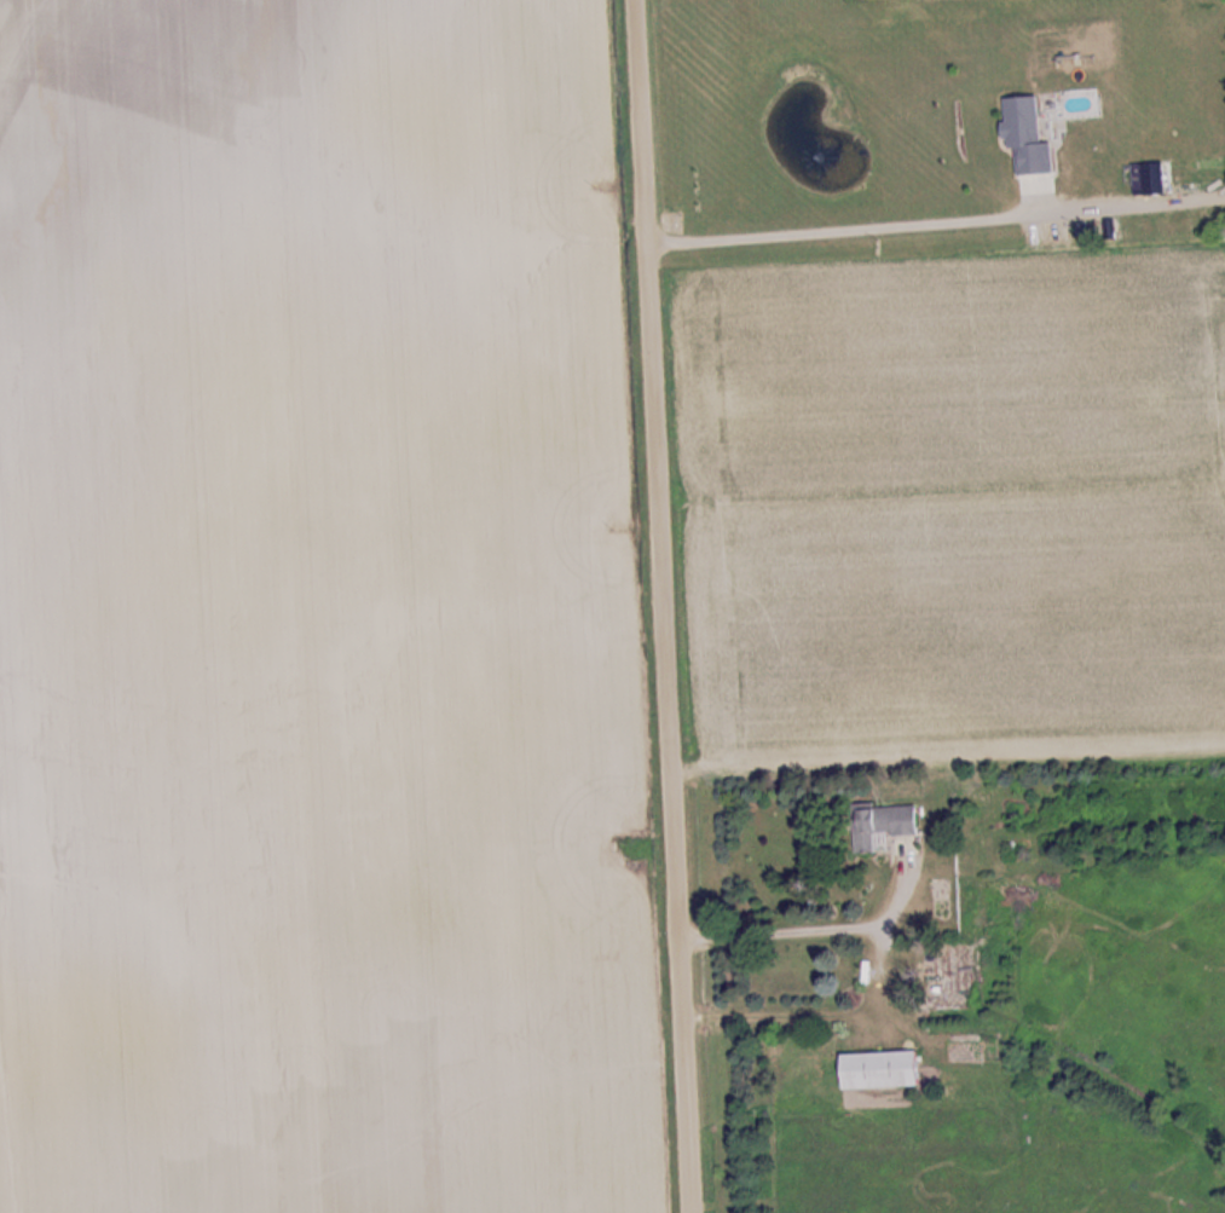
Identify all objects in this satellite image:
building: (1029, 122)
building: (1160, 179)
road: (657, 606)
building: (885, 826)
building: (886, 1070)

